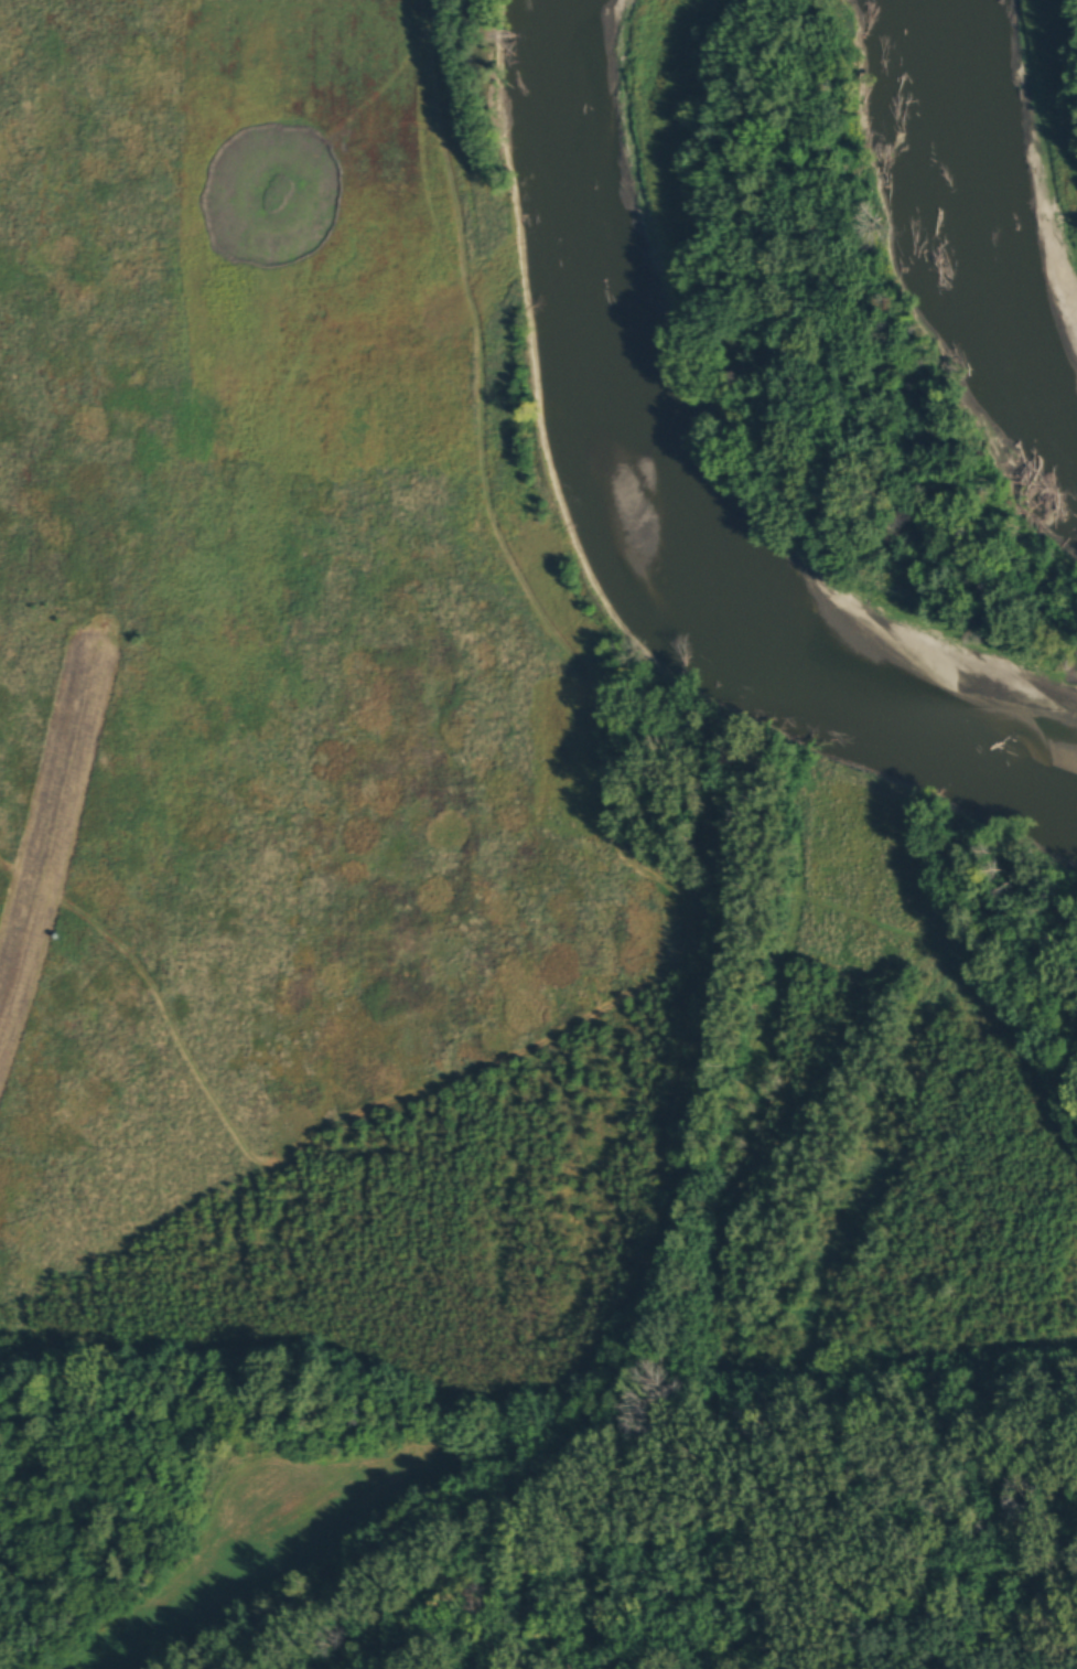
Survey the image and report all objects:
river: (984, 205)
river: (651, 495)

